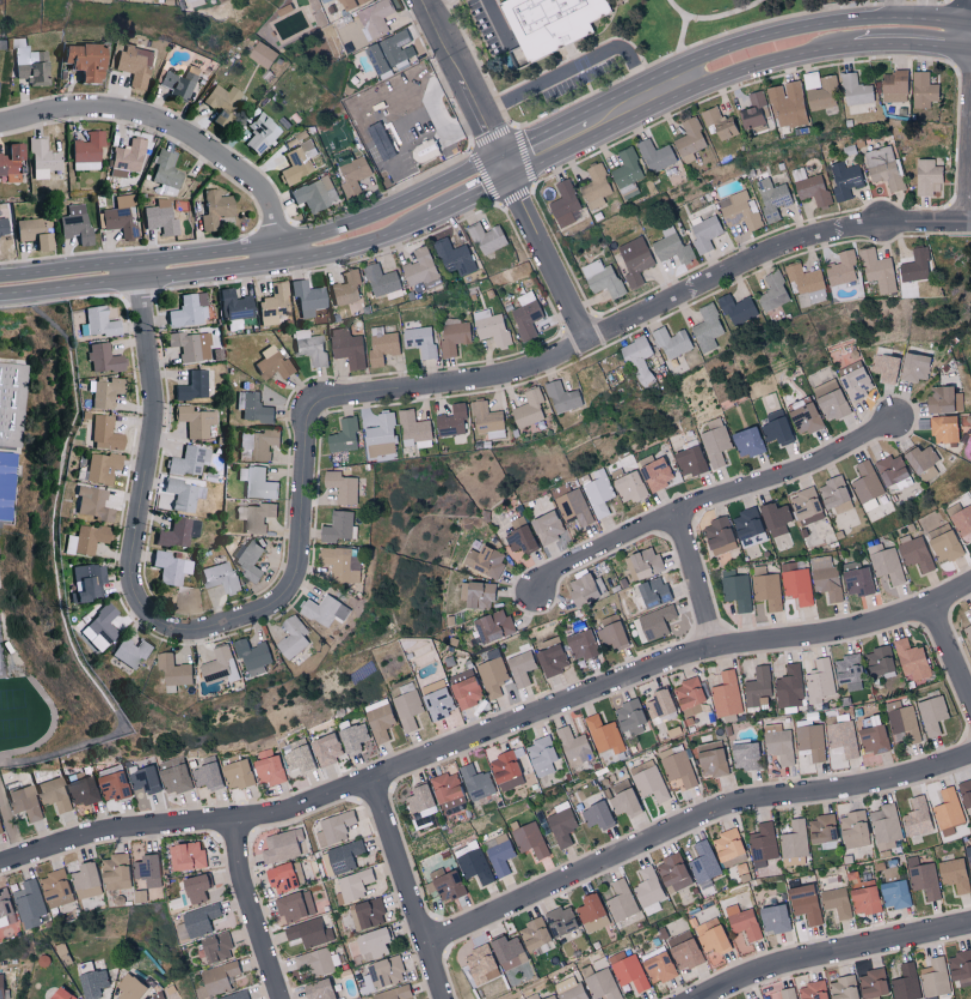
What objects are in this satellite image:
building: (349, 3)
road: (434, 5)
road: (726, 17)
building: (375, 18)
road: (885, 18)
road: (811, 21)
road: (498, 22)
building: (554, 23)
road: (682, 36)
park: (640, 46)
building: (391, 50)
building: (262, 54)
building: (79, 60)
building: (28, 63)
building: (133, 64)
road: (577, 66)
road: (729, 68)
parking lot: (572, 78)
building: (176, 83)
road: (463, 85)
building: (894, 86)
building: (195, 88)
building: (856, 90)
building: (923, 90)
building: (219, 100)
building: (787, 104)
building: (753, 111)
building: (716, 124)
road: (171, 127)
road: (362, 128)
building: (259, 132)
building: (422, 139)
building: (690, 140)
building: (380, 141)
building: (86, 150)
building: (655, 155)
building: (41, 157)
building: (9, 162)
building: (297, 162)
building: (883, 167)
building: (352, 173)
building: (627, 173)
building: (928, 177)
building: (845, 179)
building: (596, 186)
building: (810, 187)
building: (314, 194)
building: (773, 195)
building: (564, 204)
building: (213, 208)
building: (738, 211)
building: (159, 217)
building: (120, 219)
building: (74, 223)
building: (2, 226)
building: (32, 232)
building: (704, 233)
building: (486, 238)
road: (328, 245)
building: (672, 247)
road: (547, 255)
road: (772, 257)
building: (455, 258)
building: (634, 260)
building: (915, 266)
building: (421, 269)
building: (841, 269)
building: (877, 271)
building: (601, 278)
road: (68, 279)
building: (382, 281)
building: (806, 284)
building: (345, 288)
building: (773, 292)
building: (306, 297)
building: (273, 304)
building: (233, 305)
building: (187, 309)
building: (736, 310)
building: (526, 318)
building: (97, 322)
building: (491, 327)
building: (707, 328)
building: (454, 335)
building: (420, 341)
building: (671, 342)
building: (189, 345)
building: (310, 346)
building: (347, 347)
building: (102, 358)
building: (637, 360)
building: (272, 363)
building: (884, 368)
building: (914, 368)
building: (855, 384)
building: (191, 386)
building: (561, 397)
building: (829, 400)
building: (943, 400)
building: (253, 407)
building: (528, 409)
building: (15, 413)
road: (313, 417)
building: (804, 419)
building: (194, 420)
building: (487, 420)
building: (452, 422)
building: (414, 429)
building: (942, 429)
building: (776, 430)
building: (104, 431)
building: (380, 435)
building: (343, 436)
building: (714, 442)
building: (746, 443)
building: (258, 444)
building: (919, 459)
building: (188, 460)
building: (689, 462)
road: (150, 465)
building: (100, 467)
building: (891, 470)
building: (654, 472)
building: (866, 482)
building: (257, 483)
building: (627, 485)
building: (342, 487)
building: (182, 493)
building: (598, 493)
building: (10, 495)
building: (834, 495)
road: (711, 498)
building: (90, 502)
building: (573, 507)
building: (806, 507)
building: (255, 517)
building: (774, 519)
building: (963, 523)
building: (339, 527)
building: (546, 528)
building: (748, 528)
building: (177, 532)
building: (718, 537)
building: (86, 538)
building: (519, 540)
building: (943, 543)
building: (916, 554)
building: (249, 561)
building: (484, 561)
building: (341, 564)
building: (644, 564)
building: (886, 564)
building: (169, 567)
building: (219, 577)
building: (825, 577)
road: (696, 579)
building: (857, 580)
building: (84, 582)
building: (798, 586)
building: (587, 588)
building: (767, 588)
building: (737, 591)
building: (477, 595)
building: (651, 595)
building: (324, 611)
building: (969, 612)
building: (656, 623)
building: (2, 624)
building: (493, 626)
building: (98, 627)
building: (968, 631)
building: (612, 633)
building: (292, 637)
building: (582, 645)
road: (950, 648)
building: (130, 651)
building: (552, 657)
building: (911, 659)
building: (878, 660)
building: (216, 665)
building: (521, 668)
building: (173, 671)
building: (849, 671)
building: (492, 676)
building: (820, 680)
building: (757, 687)
building: (789, 687)
building: (466, 692)
building: (726, 694)
building: (689, 696)
building: (659, 703)
building: (438, 704)
building: (407, 707)
building: (629, 714)
building: (932, 714)
building: (379, 720)
building: (903, 723)
road: (487, 732)
building: (603, 734)
building: (872, 734)
building: (353, 738)
building: (842, 739)
building: (810, 741)
building: (778, 743)
building: (573, 746)
building: (326, 749)
building: (745, 755)
building: (541, 756)
building: (711, 759)
building: (297, 760)
building: (677, 765)
building: (504, 766)
building: (267, 770)
building: (237, 775)
building: (206, 776)
building: (176, 779)
building: (145, 780)
building: (649, 780)
building: (476, 782)
building: (511, 782)
building: (114, 786)
building: (83, 791)
building: (448, 793)
building: (54, 794)
building: (966, 795)
building: (418, 798)
building: (623, 801)
building: (25, 802)
building: (947, 808)
building: (595, 814)
building: (917, 817)
building: (562, 824)
building: (885, 826)
building: (334, 827)
building: (822, 828)
building: (854, 829)
building: (0, 831)
road: (692, 834)
building: (530, 839)
building: (795, 843)
building: (763, 844)
building: (281, 845)
building: (727, 845)
building: (499, 854)
building: (968, 854)
building: (187, 856)
building: (343, 856)
building: (703, 862)
building: (475, 865)
building: (146, 866)
building: (116, 872)
building: (673, 872)
building: (954, 874)
building: (281, 878)
building: (86, 880)
building: (925, 880)
building: (447, 884)
building: (353, 886)
building: (195, 888)
road: (408, 888)
building: (56, 889)
building: (649, 891)
building: (895, 894)
building: (140, 896)
building: (865, 897)
building: (621, 901)
building: (836, 902)
building: (5, 903)
building: (805, 903)
building: (30, 904)
building: (295, 905)
road: (254, 913)
building: (367, 913)
building: (591, 913)
building: (774, 919)
building: (561, 920)
building: (742, 921)
building: (196, 922)
building: (309, 933)
building: (533, 933)
building: (712, 941)
building: (373, 943)
building: (683, 950)
building: (507, 952)
road: (838, 955)
building: (320, 962)
building: (480, 964)
building: (658, 967)
building: (960, 967)
building: (628, 971)
building: (381, 974)
building: (218, 977)
building: (934, 977)
building: (92, 982)
building: (906, 982)
building: (600, 983)
building: (873, 983)
building: (0, 987)
building: (129, 987)
building: (570, 988)
building: (319, 990)
building: (813, 990)
building: (395, 993)
building: (789, 993)
building: (60, 994)
building: (237, 996)
building: (533, 996)
building: (550, 997)
building: (930, 997)

